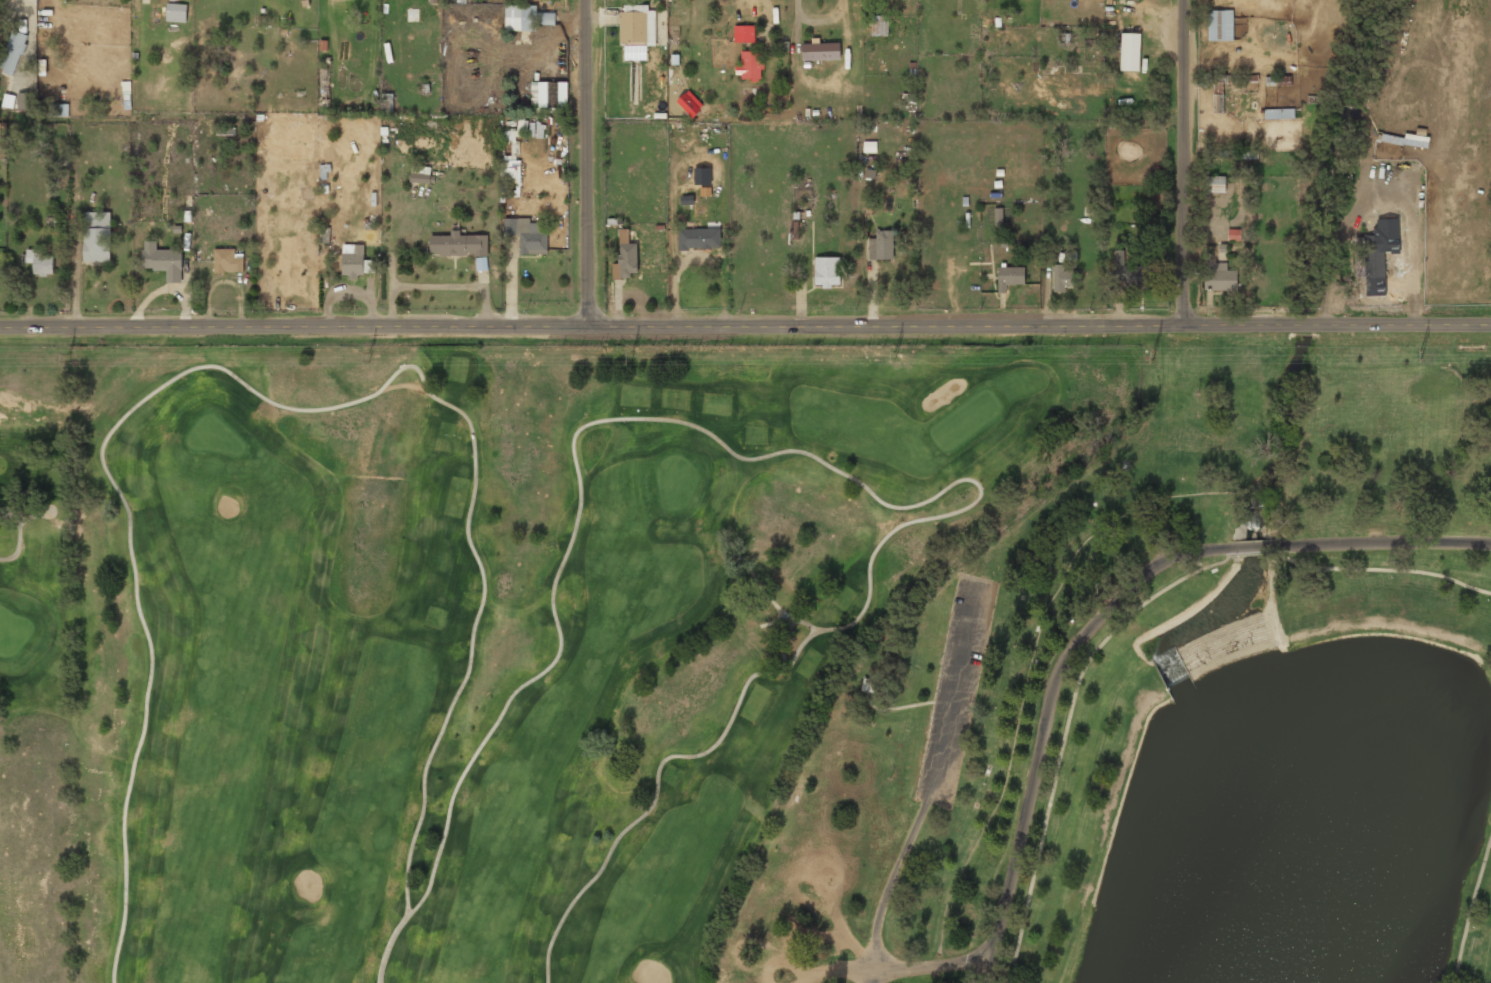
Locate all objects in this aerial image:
building: (176, 12)
building: (520, 18)
building: (412, 22)
building: (879, 25)
building: (1219, 26)
building: (637, 27)
building: (744, 33)
building: (821, 52)
building: (1130, 53)
building: (12, 54)
building: (750, 65)
building: (1281, 80)
building: (546, 94)
building: (1218, 97)
building: (25, 101)
building: (689, 103)
building: (58, 109)
building: (1279, 114)
building: (1402, 141)
building: (869, 146)
road: (1180, 162)
road: (590, 163)
building: (420, 178)
building: (1214, 184)
building: (527, 236)
building: (96, 238)
building: (699, 240)
building: (457, 246)
building: (880, 247)
building: (624, 255)
building: (1374, 258)
building: (228, 261)
building: (352, 261)
building: (161, 262)
building: (40, 263)
building: (826, 273)
building: (1009, 276)
building: (1136, 276)
building: (1061, 278)
building: (1219, 278)
road: (745, 326)
power tower: (893, 355)
power tower: (1420, 355)
power tower: (631, 356)
power tower: (1152, 356)
power tower: (369, 357)
power tower: (69, 358)
road: (266, 398)
road: (835, 469)
road: (9, 518)
road: (18, 530)
road: (1382, 543)
road: (1253, 547)
road: (1253, 553)
road: (1382, 569)
road: (786, 632)
park: (460, 633)
building: (868, 686)
parking lot: (953, 692)
park: (1174, 709)
road: (1045, 716)
road: (1065, 730)
road: (934, 784)
road: (1469, 907)
road: (928, 965)
road: (866, 977)

